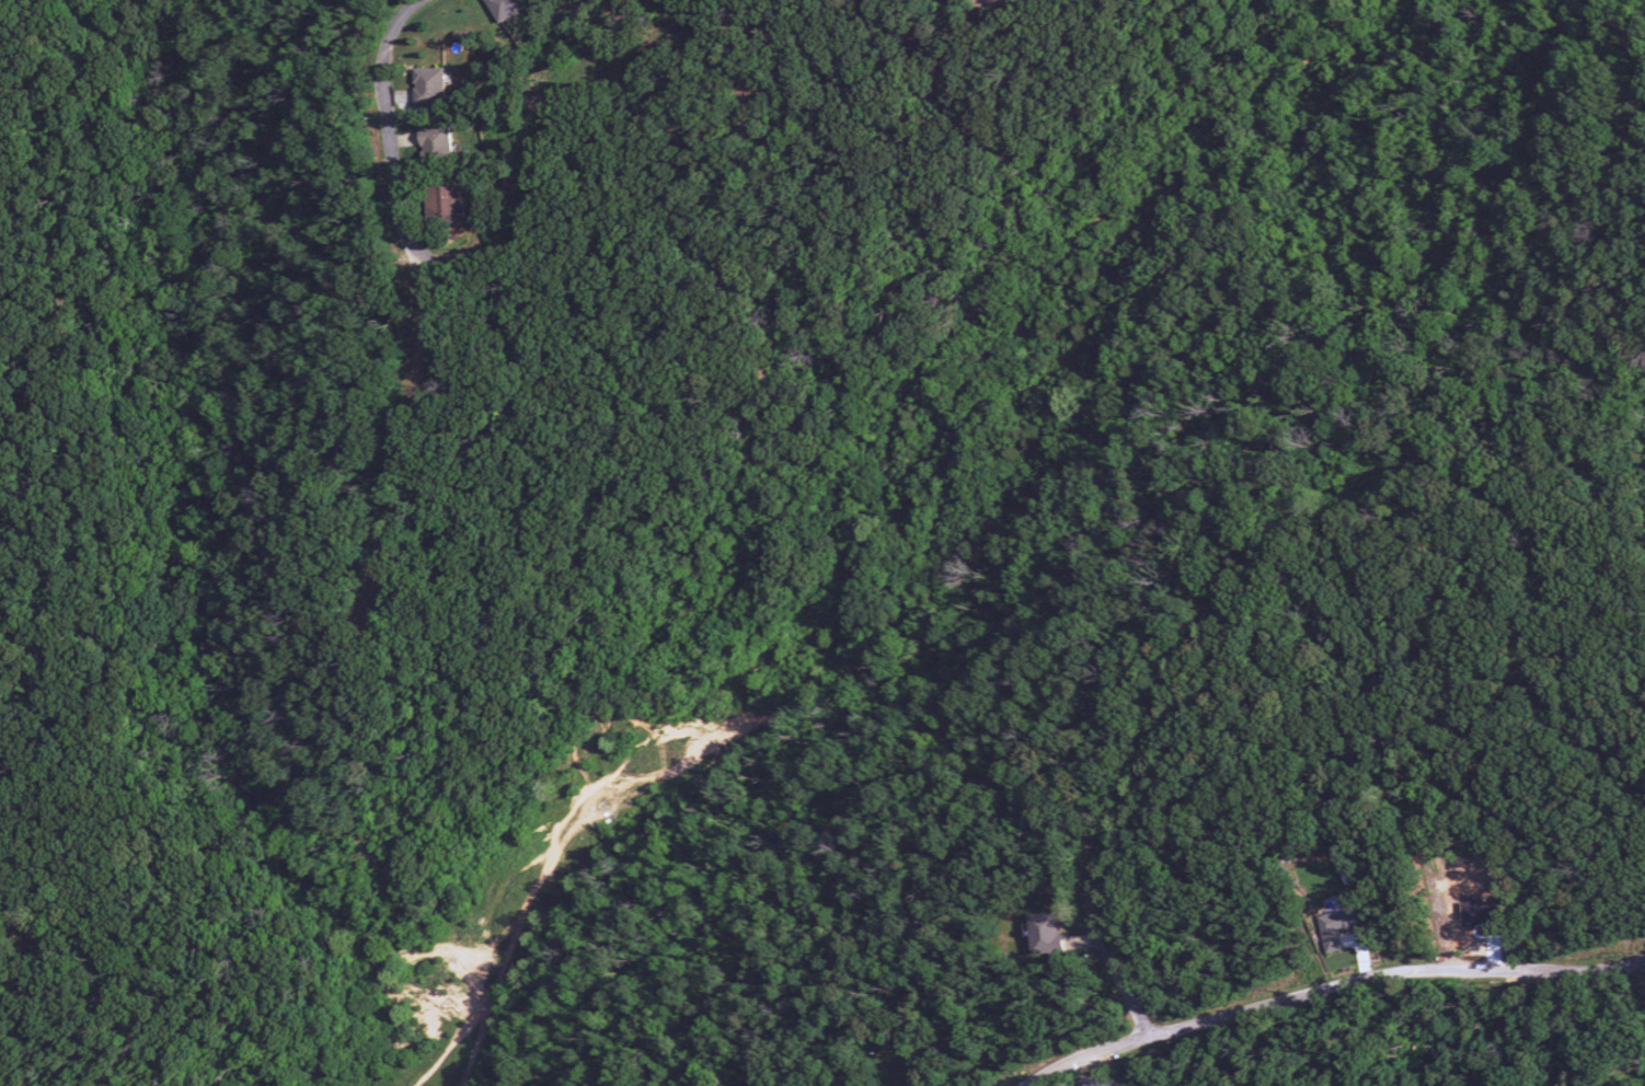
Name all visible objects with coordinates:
building: (506, 8)
road: (672, 20)
road: (745, 71)
building: (428, 86)
building: (436, 143)
road: (557, 143)
road: (1538, 155)
road: (199, 175)
building: (447, 205)
road: (438, 279)
road: (1280, 508)
road: (4, 592)
road: (359, 860)
road: (1426, 878)
road: (26, 924)
building: (1335, 928)
building: (1045, 933)
road: (1336, 990)
road: (907, 1067)

